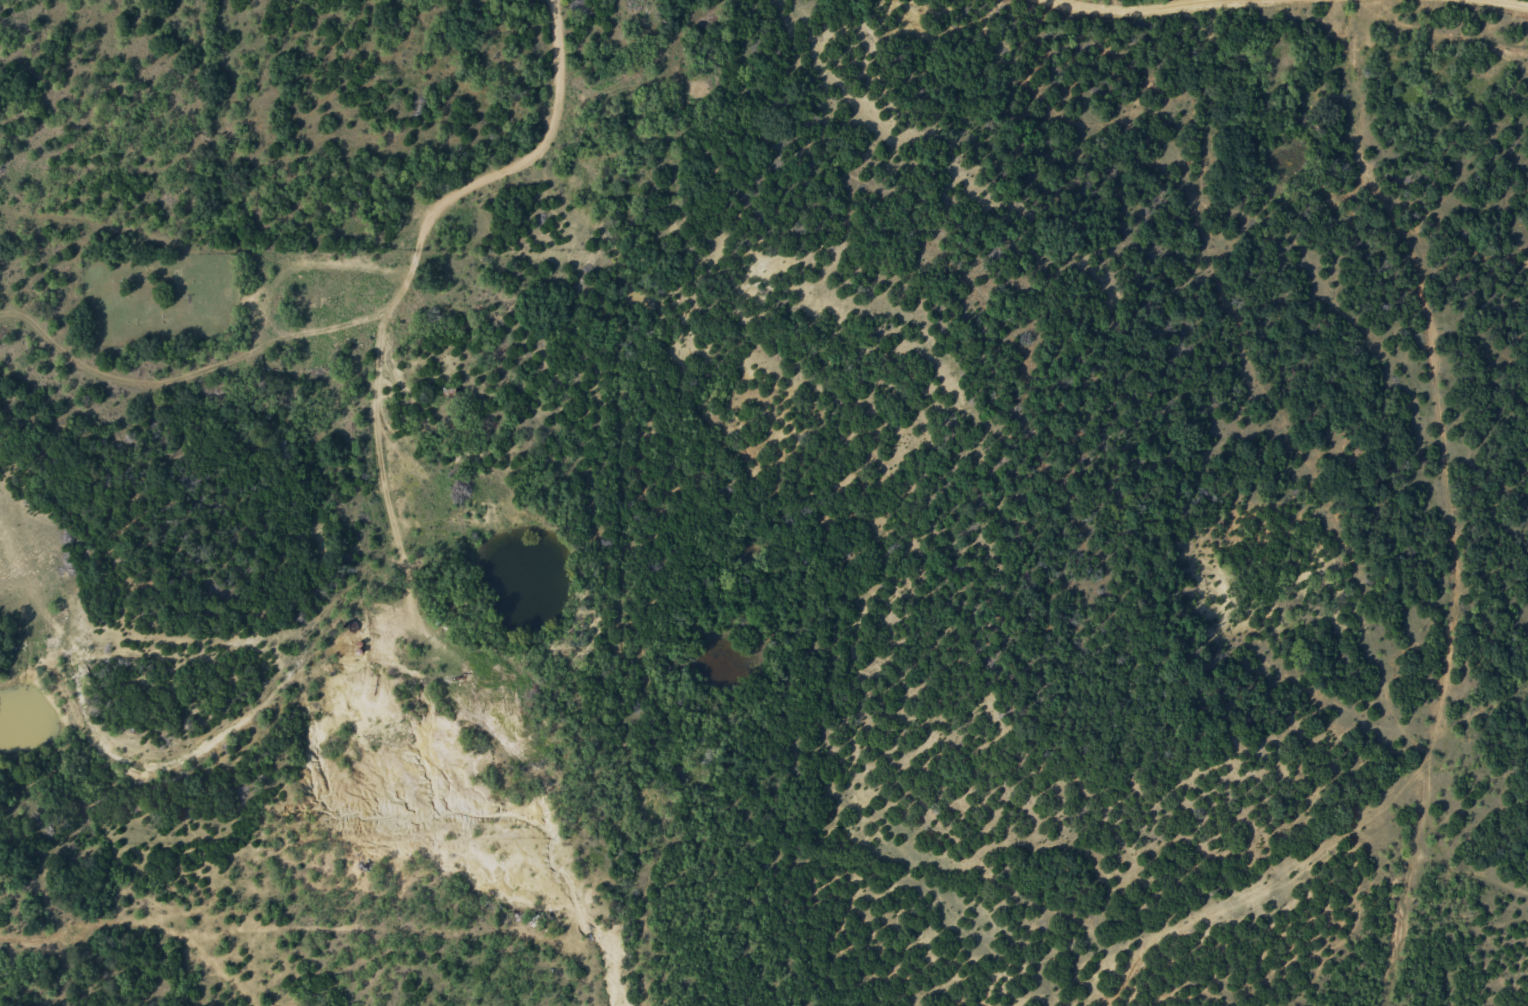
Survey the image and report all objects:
road: (1156, 13)
road: (540, 148)
park: (161, 303)
building: (323, 306)

